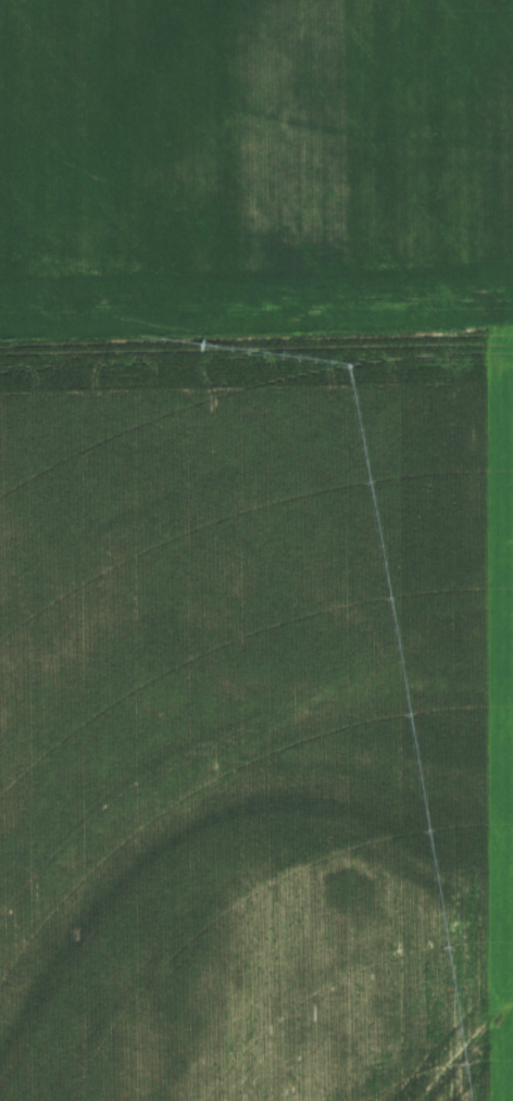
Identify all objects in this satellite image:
crop: (256, 550)

